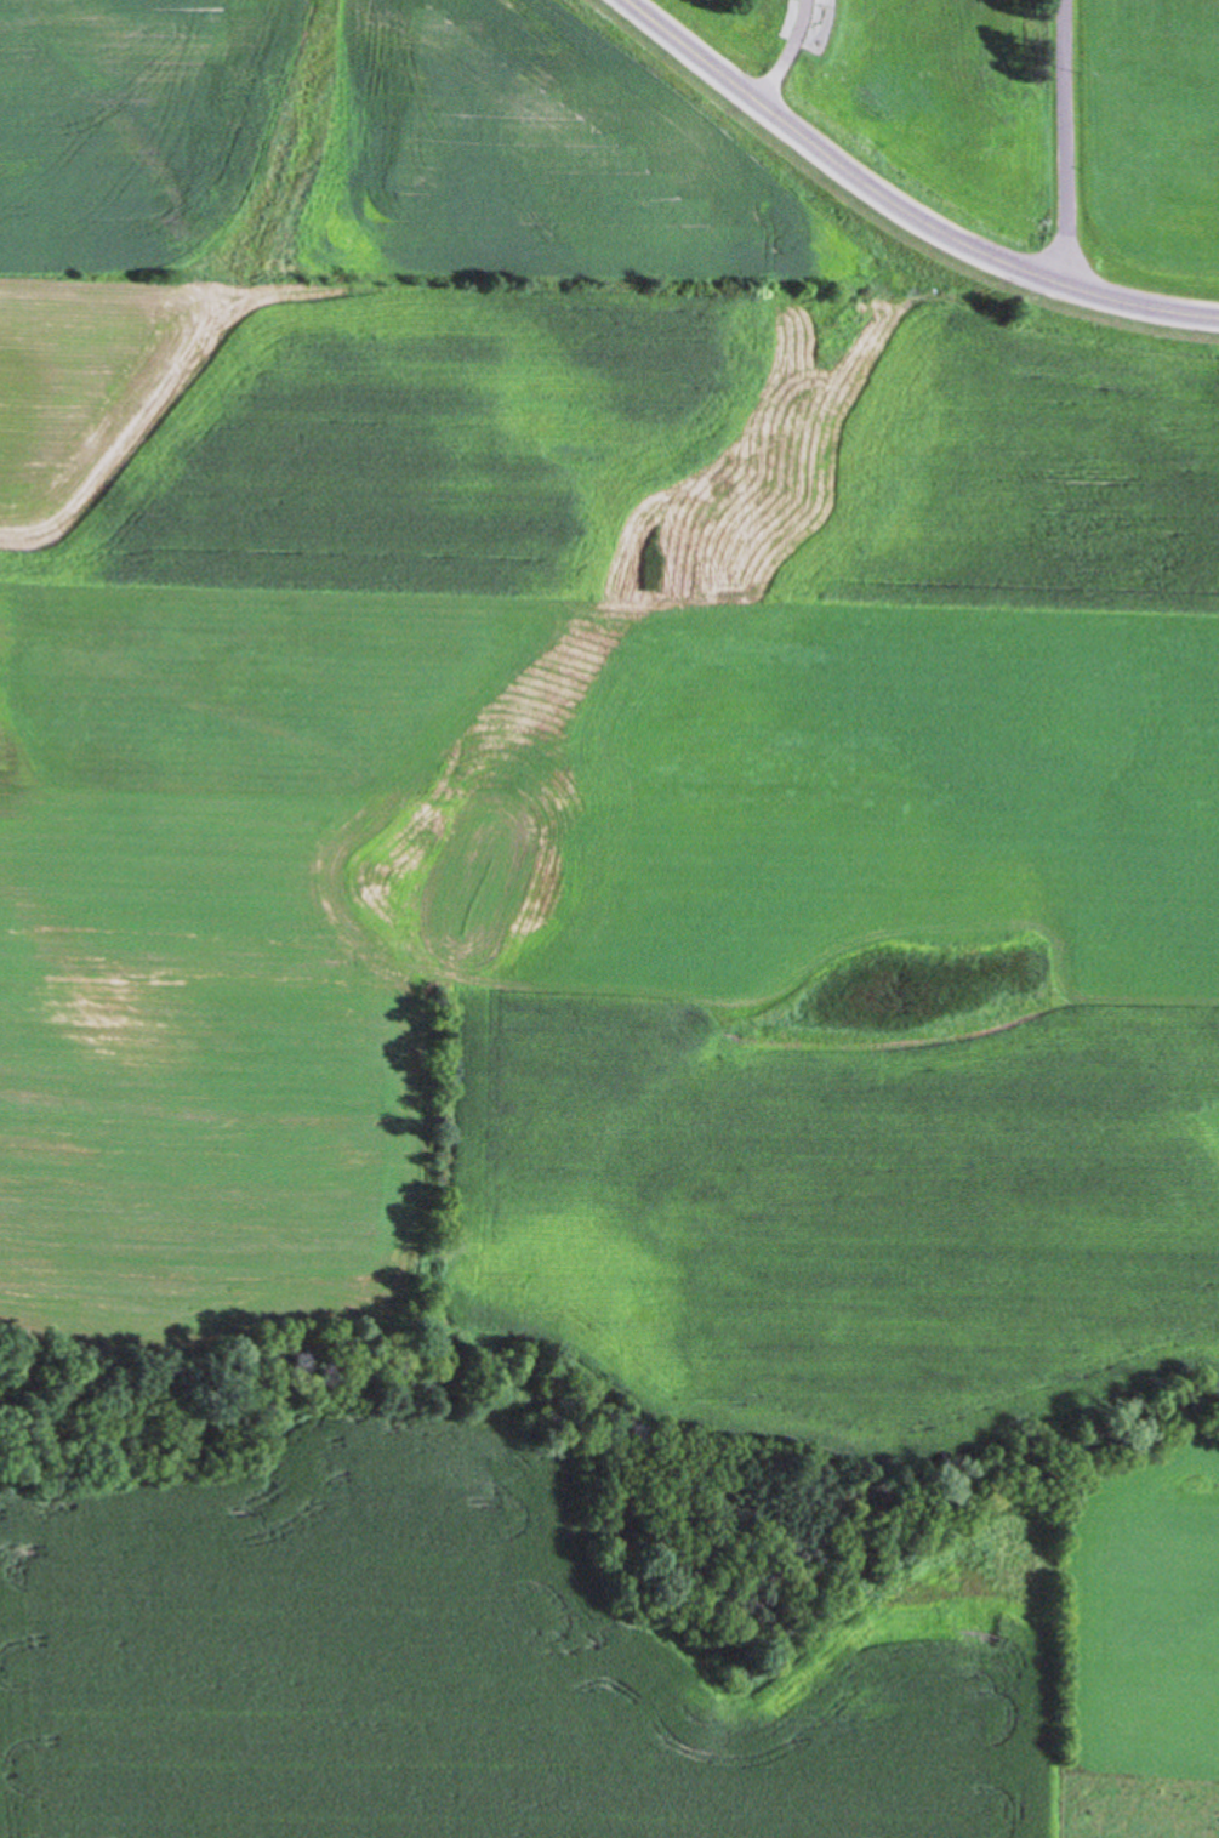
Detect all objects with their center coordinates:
road: (787, 49)
park: (957, 109)
road: (1064, 138)
road: (904, 205)

